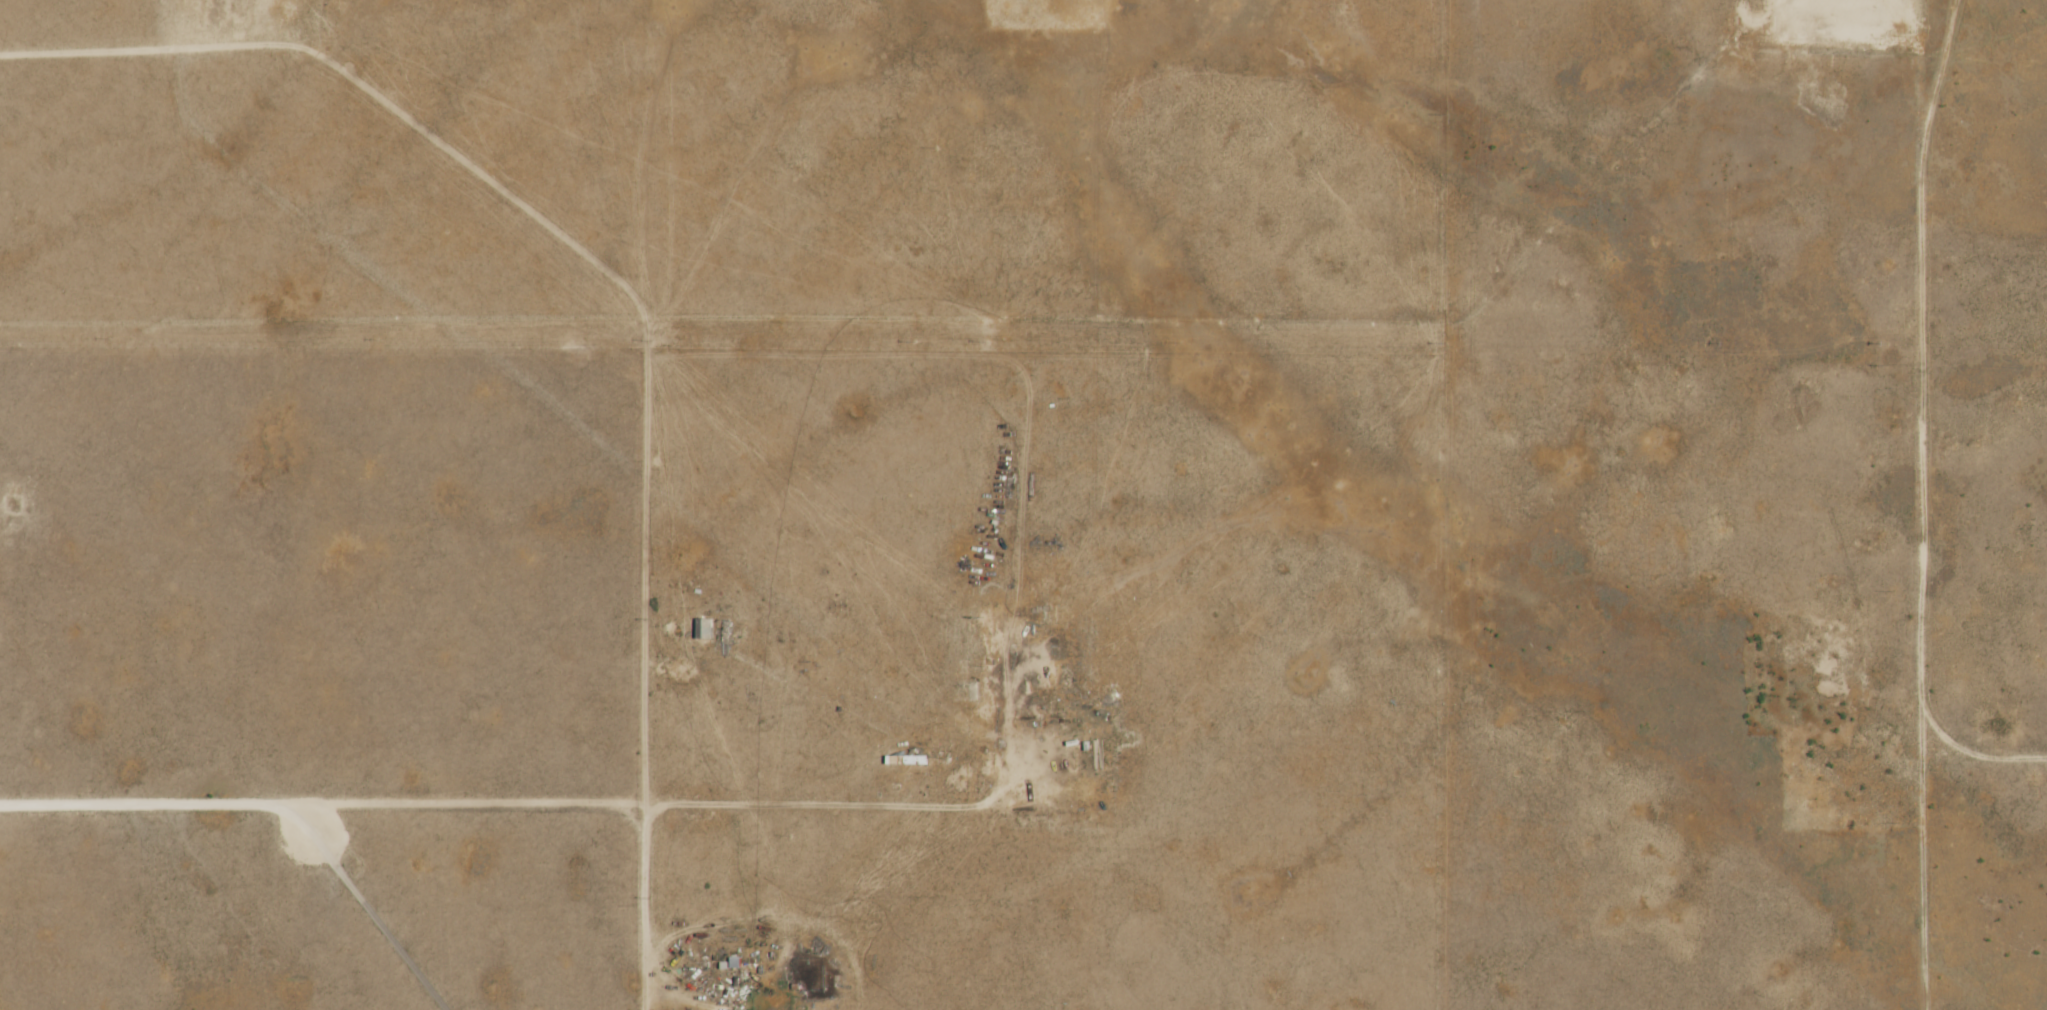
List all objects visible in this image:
road: (97, 89)
road: (1938, 502)
road: (848, 801)
road: (414, 807)

